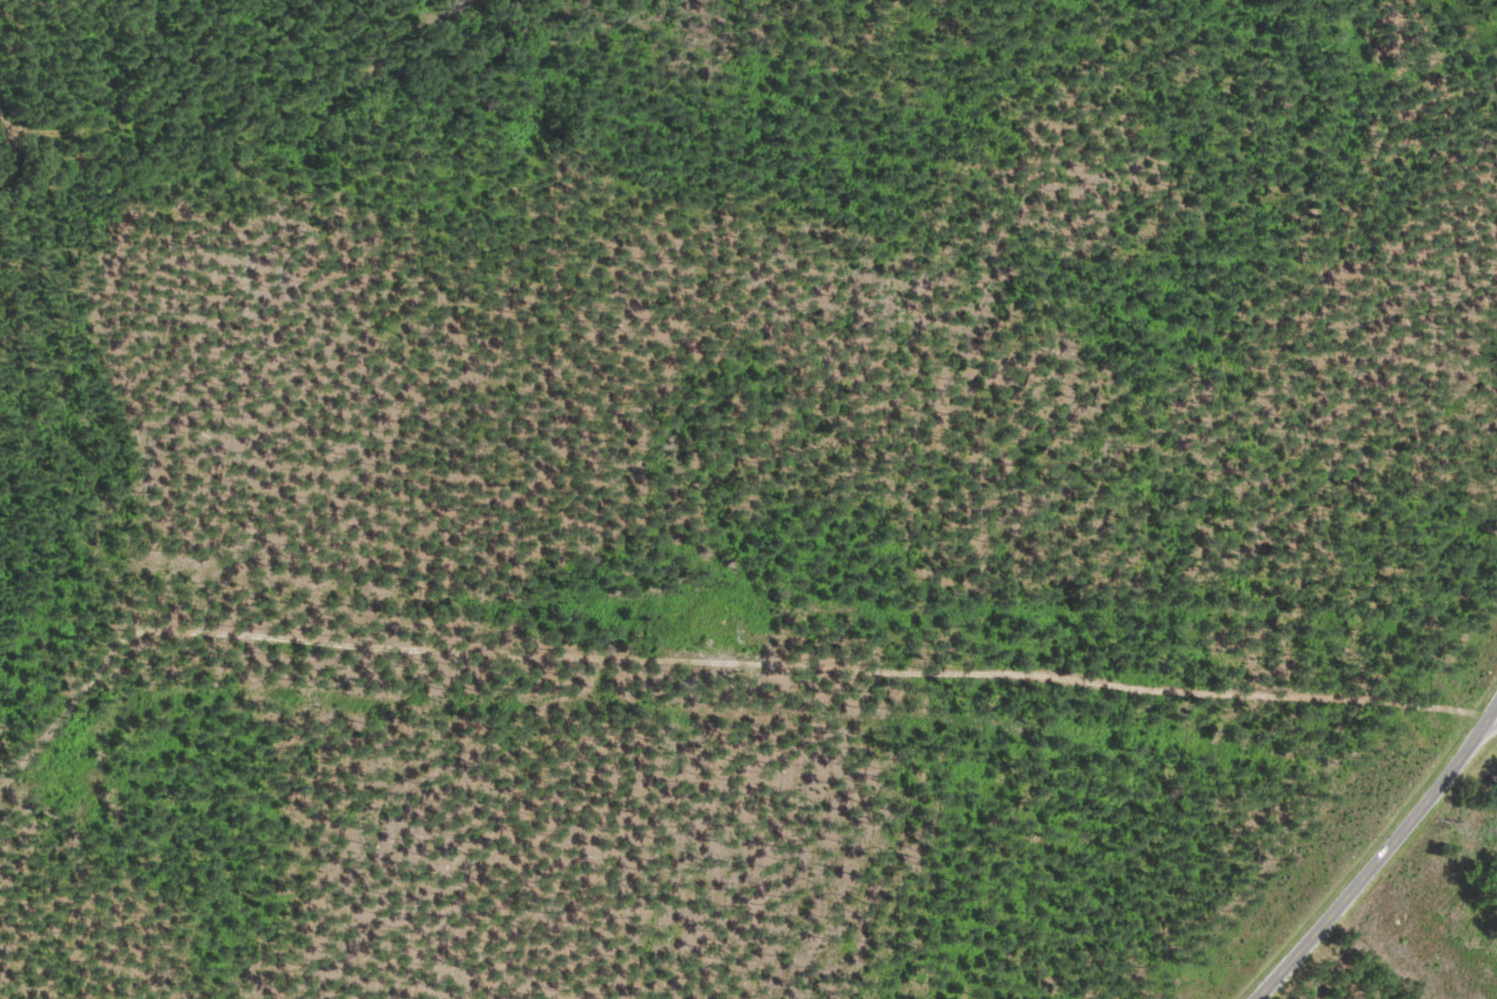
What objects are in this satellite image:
road: (1382, 856)

